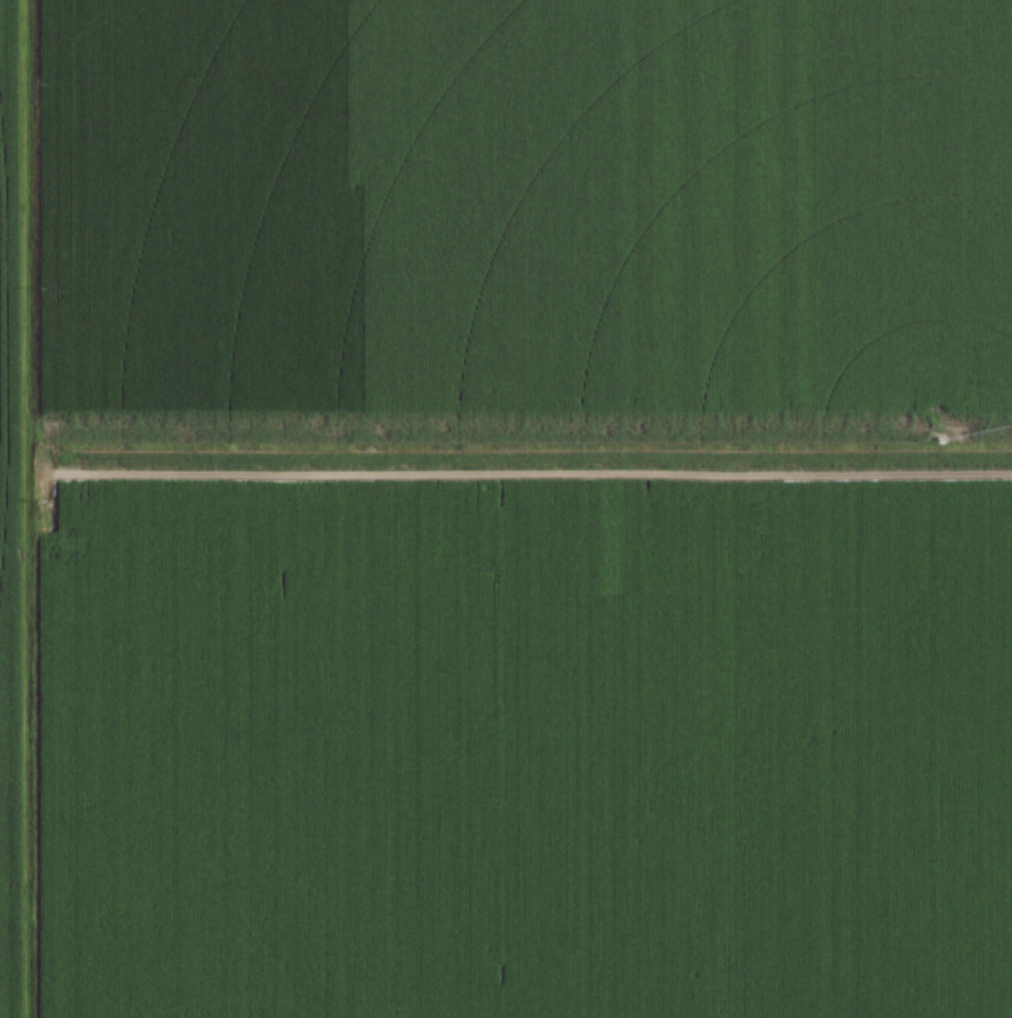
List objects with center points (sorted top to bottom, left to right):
crop: (506, 509)

